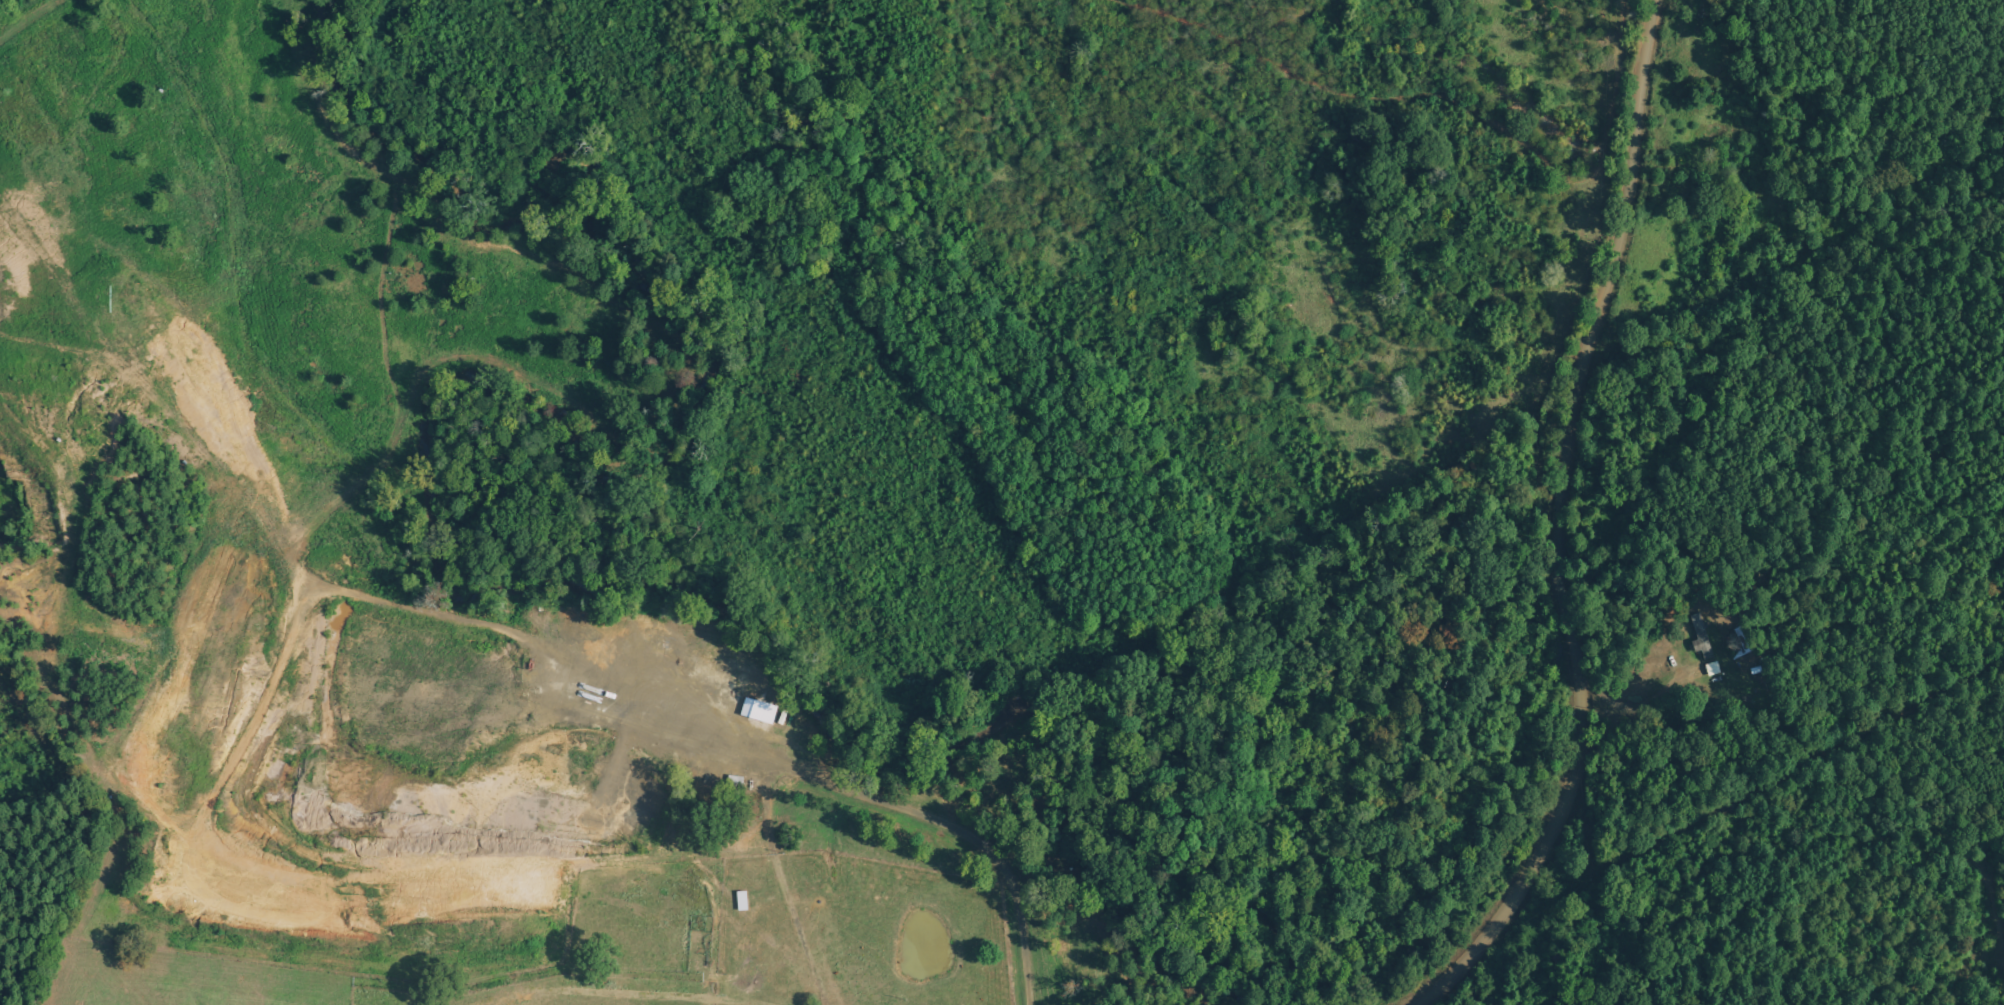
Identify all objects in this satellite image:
road: (1563, 540)
building: (1702, 636)
building: (742, 901)

